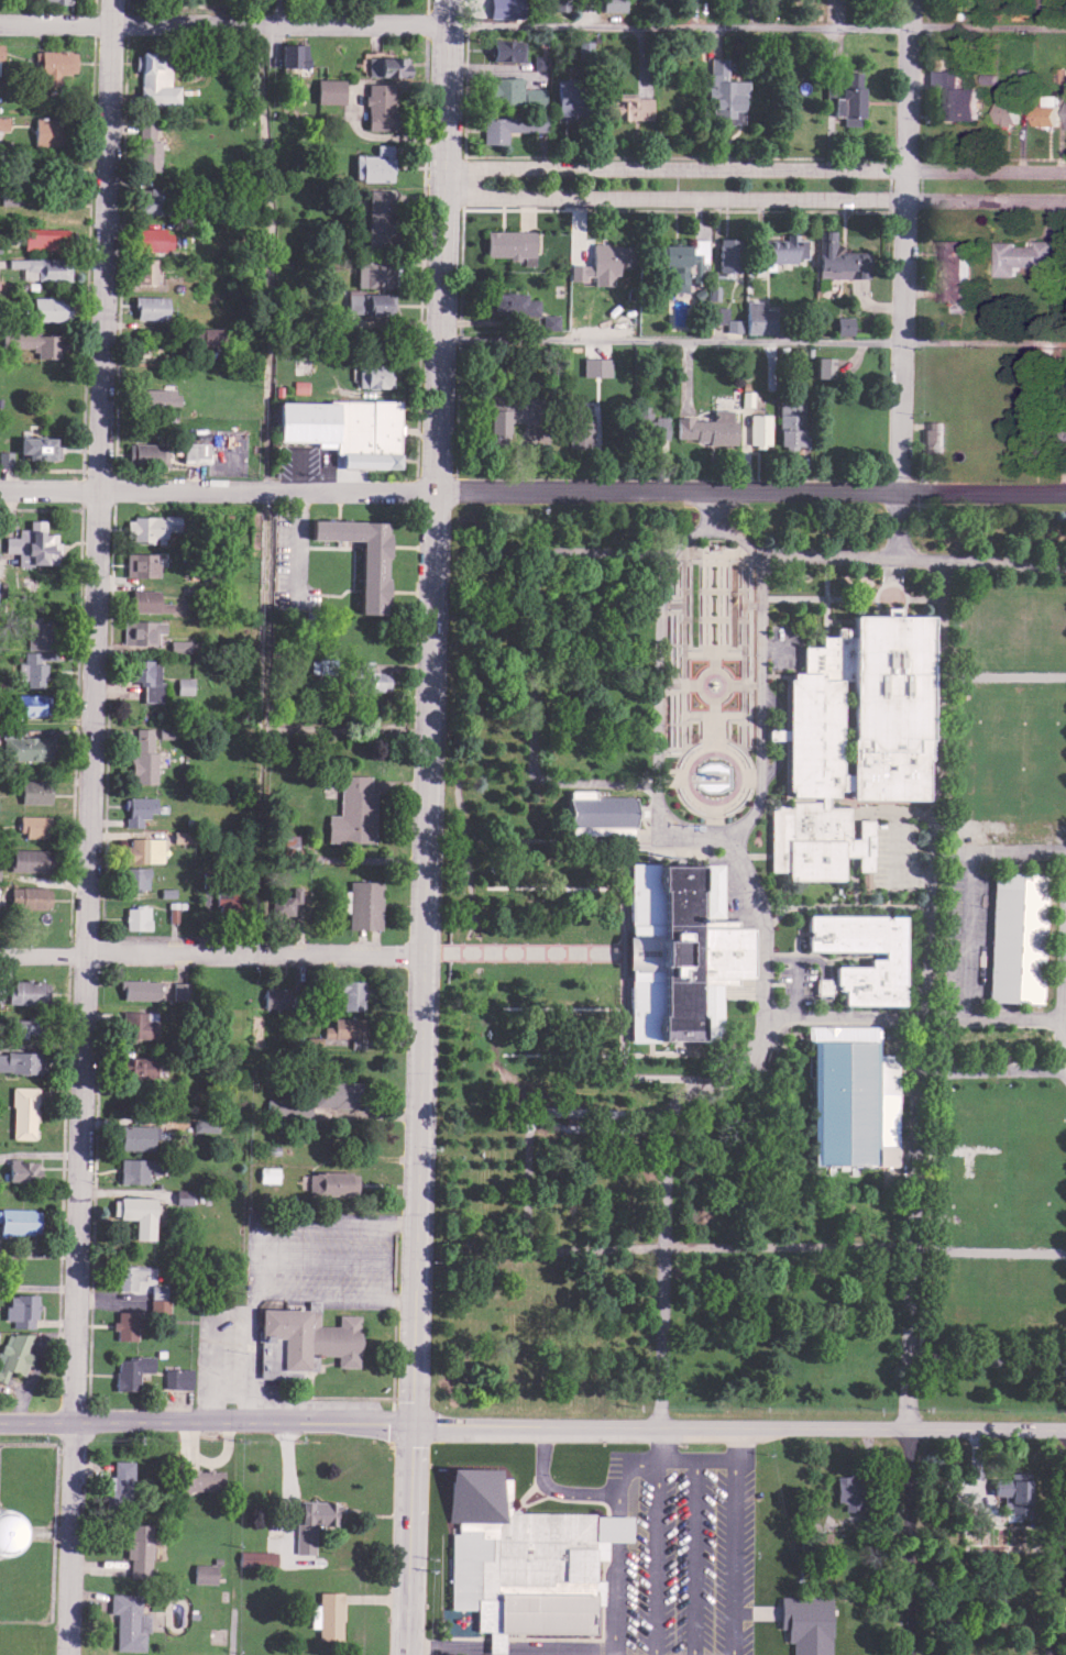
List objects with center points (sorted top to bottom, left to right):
building: (54, 0)
building: (1044, 1)
building: (771, 2)
building: (560, 3)
building: (612, 4)
building: (504, 8)
road: (278, 24)
road: (55, 25)
road: (755, 25)
building: (1, 49)
building: (504, 49)
building: (290, 53)
building: (53, 63)
building: (382, 64)
building: (153, 77)
building: (327, 88)
building: (508, 90)
building: (723, 90)
building: (955, 92)
building: (844, 93)
building: (565, 98)
building: (377, 104)
building: (1005, 104)
building: (625, 106)
building: (1045, 109)
building: (1065, 112)
building: (510, 123)
building: (145, 124)
building: (50, 130)
building: (147, 153)
building: (372, 163)
road: (755, 168)
building: (9, 194)
building: (152, 198)
road: (755, 201)
building: (378, 217)
road: (271, 235)
building: (43, 236)
building: (153, 238)
building: (508, 242)
road: (903, 245)
building: (780, 249)
building: (725, 253)
building: (1023, 253)
building: (837, 257)
building: (604, 261)
building: (44, 265)
building: (952, 268)
building: (144, 269)
building: (372, 273)
building: (364, 301)
building: (513, 301)
building: (47, 306)
building: (149, 306)
building: (757, 316)
building: (724, 317)
building: (549, 319)
building: (842, 323)
building: (205, 333)
building: (34, 340)
building: (594, 365)
building: (822, 365)
building: (373, 373)
building: (157, 395)
building: (745, 396)
building: (513, 411)
building: (788, 422)
building: (1036, 423)
building: (576, 424)
building: (705, 426)
building: (758, 428)
building: (345, 429)
building: (647, 429)
building: (932, 433)
building: (35, 444)
building: (193, 449)
building: (144, 451)
building: (6, 456)
road: (48, 490)
road: (581, 492)
road: (712, 510)
building: (172, 520)
road: (898, 523)
building: (142, 526)
road: (708, 529)
building: (31, 542)
road: (594, 554)
road: (912, 555)
road: (759, 556)
building: (360, 560)
road: (712, 560)
building: (140, 562)
road: (891, 586)
road: (712, 587)
road: (825, 594)
road: (838, 597)
building: (144, 599)
road: (672, 605)
road: (697, 606)
road: (702, 606)
road: (708, 606)
road: (716, 606)
road: (721, 606)
road: (726, 606)
road: (712, 615)
road: (595, 622)
building: (140, 629)
building: (37, 631)
building: (177, 643)
road: (778, 644)
road: (683, 646)
road: (739, 648)
road: (711, 653)
road: (712, 661)
building: (319, 663)
building: (34, 664)
road: (531, 672)
building: (142, 675)
building: (361, 675)
building: (183, 683)
road: (714, 684)
road: (744, 684)
road: (677, 686)
road: (696, 687)
road: (657, 692)
road: (429, 693)
road: (761, 697)
building: (29, 702)
building: (887, 708)
road: (712, 714)
road: (713, 721)
building: (811, 721)
building: (165, 729)
road: (773, 733)
building: (21, 742)
road: (691, 750)
building: (142, 754)
road: (752, 771)
road: (686, 775)
road: (668, 782)
road: (597, 783)
building: (33, 788)
flagpole: (739, 795)
flagpole: (685, 796)
flagpole: (728, 804)
building: (136, 807)
flagpole: (699, 807)
building: (351, 809)
flagpole: (712, 810)
building: (601, 817)
road: (712, 819)
building: (31, 823)
road: (87, 827)
road: (701, 830)
building: (180, 834)
building: (812, 838)
road: (553, 843)
building: (142, 847)
road: (998, 848)
building: (29, 858)
road: (1010, 862)
building: (135, 875)
building: (30, 895)
building: (226, 900)
building: (285, 900)
building: (172, 912)
building: (135, 915)
road: (965, 933)
road: (1008, 938)
building: (1014, 938)
building: (691, 946)
road: (537, 951)
building: (639, 952)
road: (42, 955)
road: (252, 955)
road: (779, 958)
building: (888, 959)
road: (822, 977)
building: (138, 986)
road: (794, 988)
building: (23, 990)
building: (347, 990)
road: (618, 990)
building: (275, 995)
road: (1064, 1005)
road: (1004, 1009)
road: (914, 1018)
building: (138, 1023)
building: (23, 1024)
building: (342, 1026)
building: (22, 1060)
road: (718, 1067)
building: (133, 1068)
road: (992, 1070)
building: (334, 1091)
road: (681, 1100)
building: (849, 1103)
building: (286, 1106)
road: (921, 1106)
building: (22, 1111)
road: (604, 1114)
building: (200, 1124)
building: (133, 1135)
building: (136, 1168)
building: (21, 1169)
building: (266, 1172)
road: (523, 1179)
building: (331, 1181)
building: (134, 1212)
building: (18, 1220)
road: (252, 1242)
road: (728, 1249)
road: (319, 1261)
building: (128, 1275)
road: (331, 1299)
building: (20, 1308)
building: (157, 1308)
building: (125, 1322)
building: (301, 1342)
building: (13, 1351)
road: (991, 1356)
building: (130, 1368)
road: (218, 1370)
building: (176, 1376)
road: (408, 1405)
road: (36, 1423)
road: (569, 1425)
road: (660, 1442)
road: (712, 1460)
building: (198, 1477)
building: (120, 1482)
road: (549, 1486)
building: (847, 1489)
building: (1012, 1493)
road: (406, 1500)
building: (310, 1519)
building: (820, 1537)
water tower: (1, 1541)
road: (612, 1543)
building: (138, 1547)
building: (255, 1556)
road: (653, 1557)
road: (691, 1557)
road: (733, 1557)
building: (523, 1563)
building: (202, 1571)
road: (1057, 1596)
building: (325, 1612)
road: (402, 1614)
building: (128, 1619)
building: (805, 1624)
road: (237, 1630)
road: (508, 1650)

